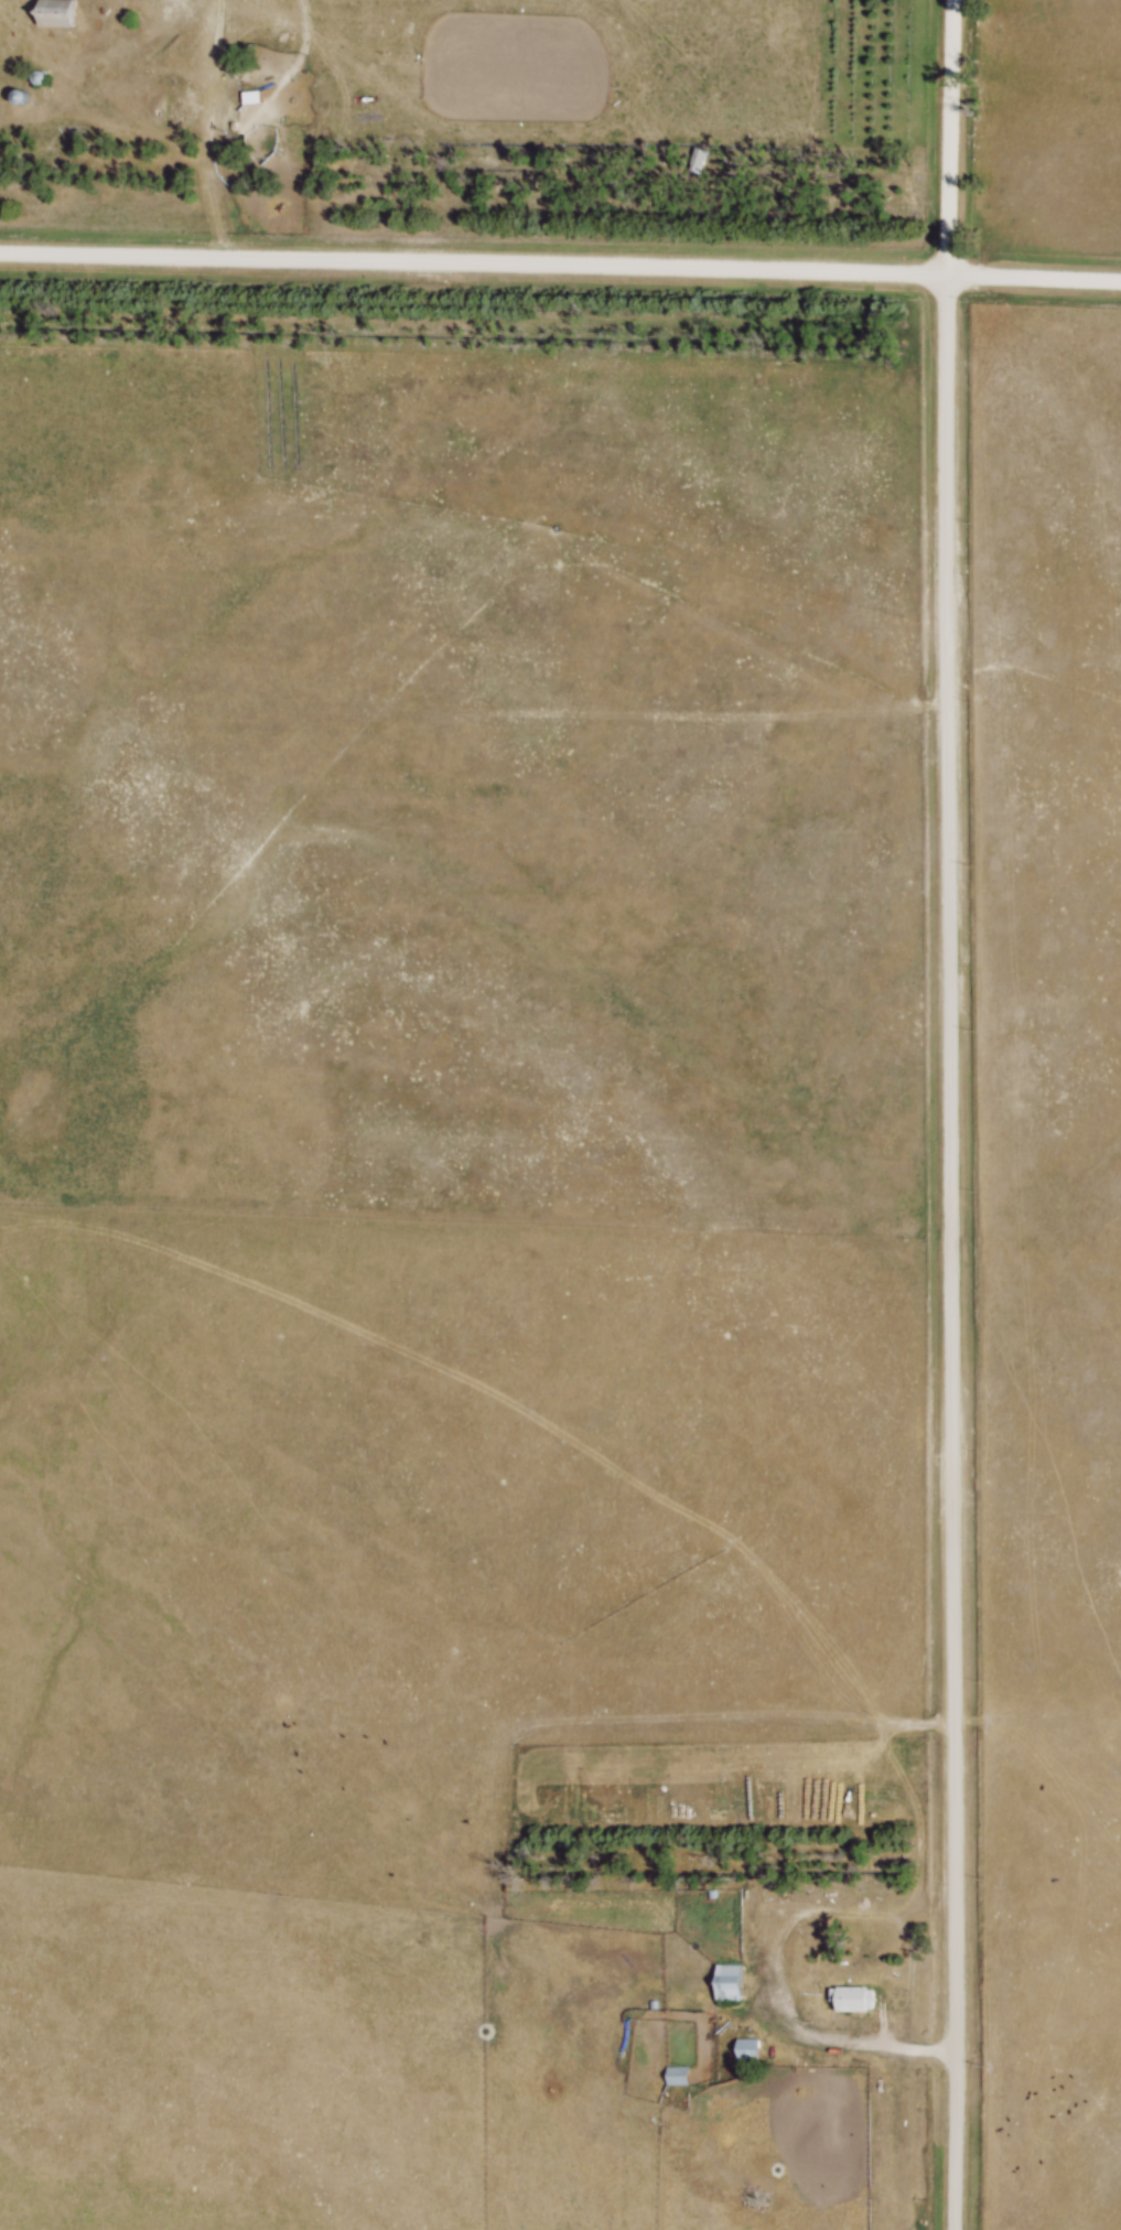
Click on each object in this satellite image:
building: (63, 13)
building: (235, 64)
building: (255, 98)
building: (24, 100)
building: (182, 110)
road: (213, 175)
road: (560, 263)
road: (951, 1114)
building: (725, 1983)
building: (849, 2000)
building: (744, 2050)

